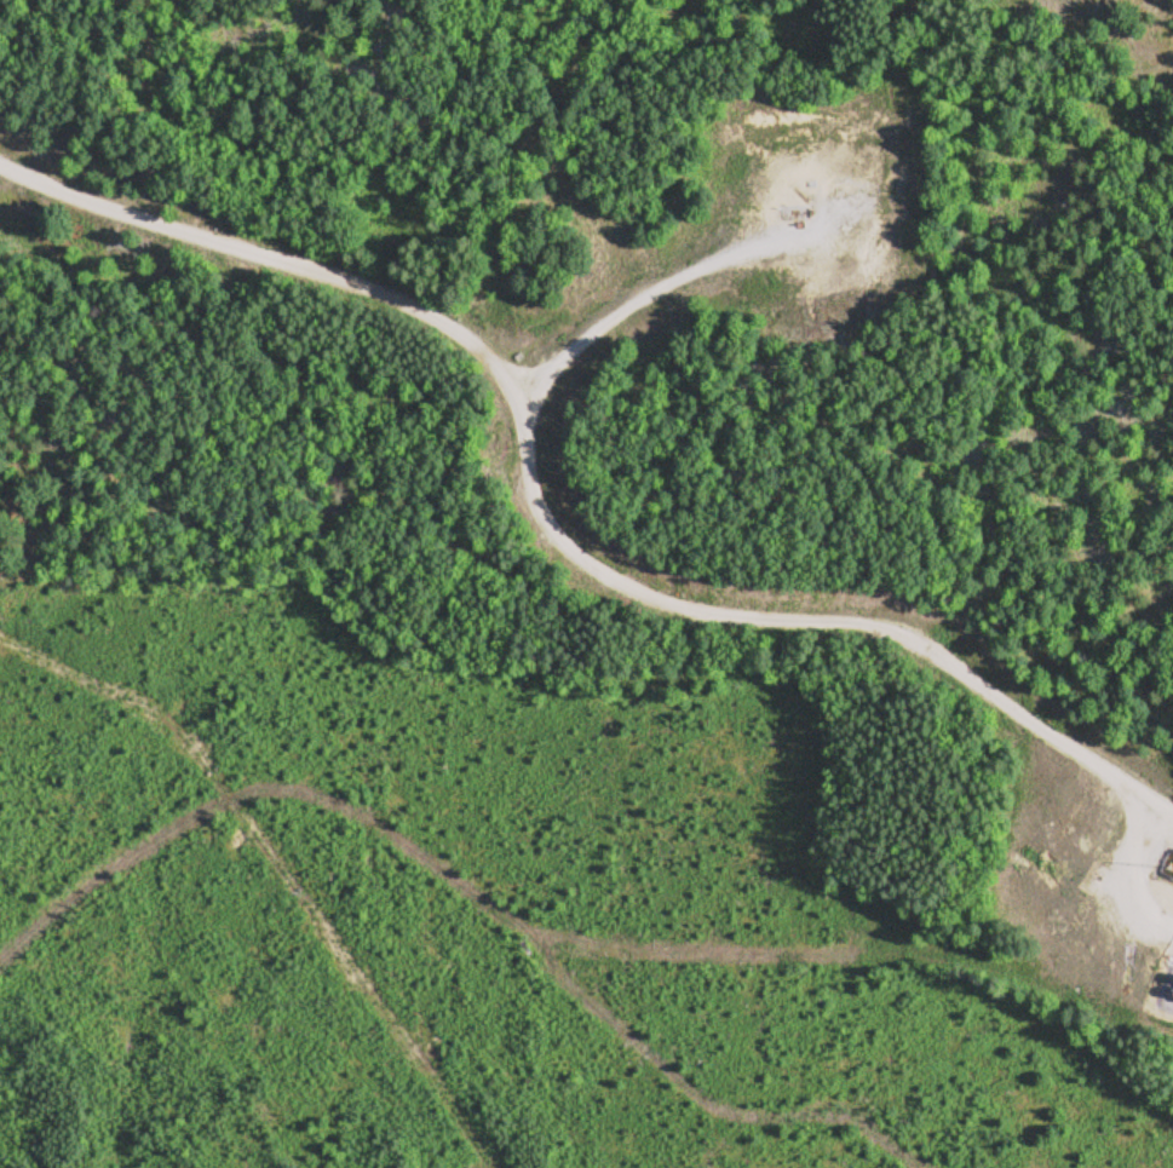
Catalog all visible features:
petroleum well: (797, 208)
road: (614, 307)
road: (531, 530)

